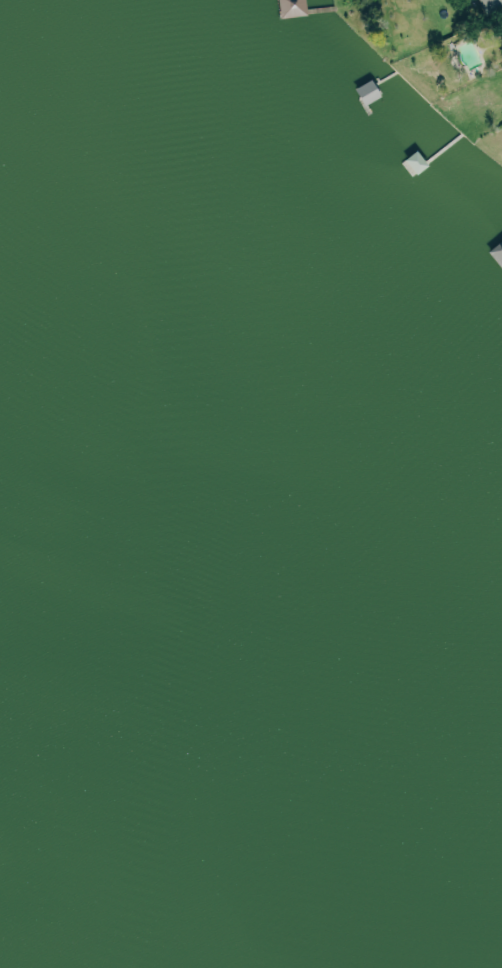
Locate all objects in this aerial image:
building: (490, 3)
building: (291, 7)
building: (501, 41)
building: (497, 253)

